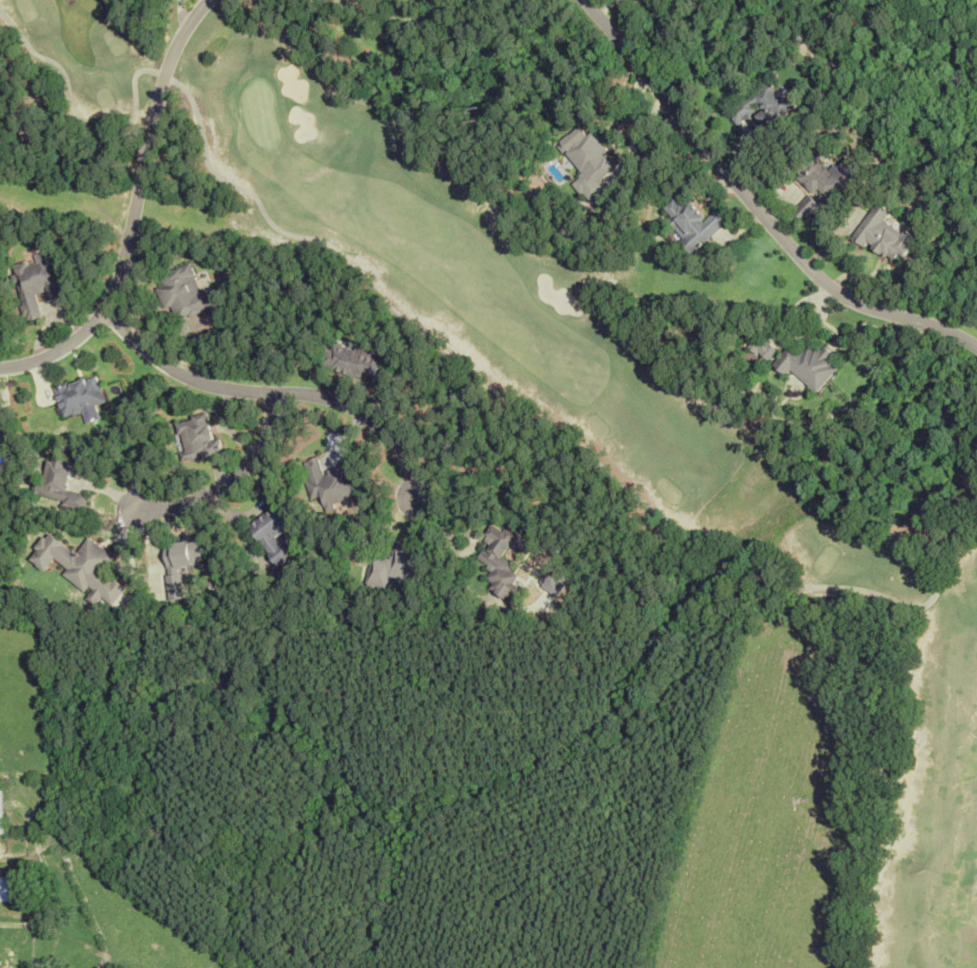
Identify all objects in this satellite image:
building: (680, 0)
building: (759, 105)
building: (585, 160)
building: (823, 186)
road: (755, 206)
road: (133, 210)
building: (690, 223)
building: (881, 233)
building: (34, 282)
building: (183, 292)
building: (768, 351)
building: (352, 360)
building: (807, 363)
road: (268, 391)
building: (79, 395)
building: (3, 429)
building: (195, 438)
road: (235, 475)
building: (58, 482)
building: (329, 484)
building: (270, 534)
building: (500, 560)
building: (180, 562)
building: (79, 566)
building: (396, 567)
building: (1, 815)
building: (11, 889)

